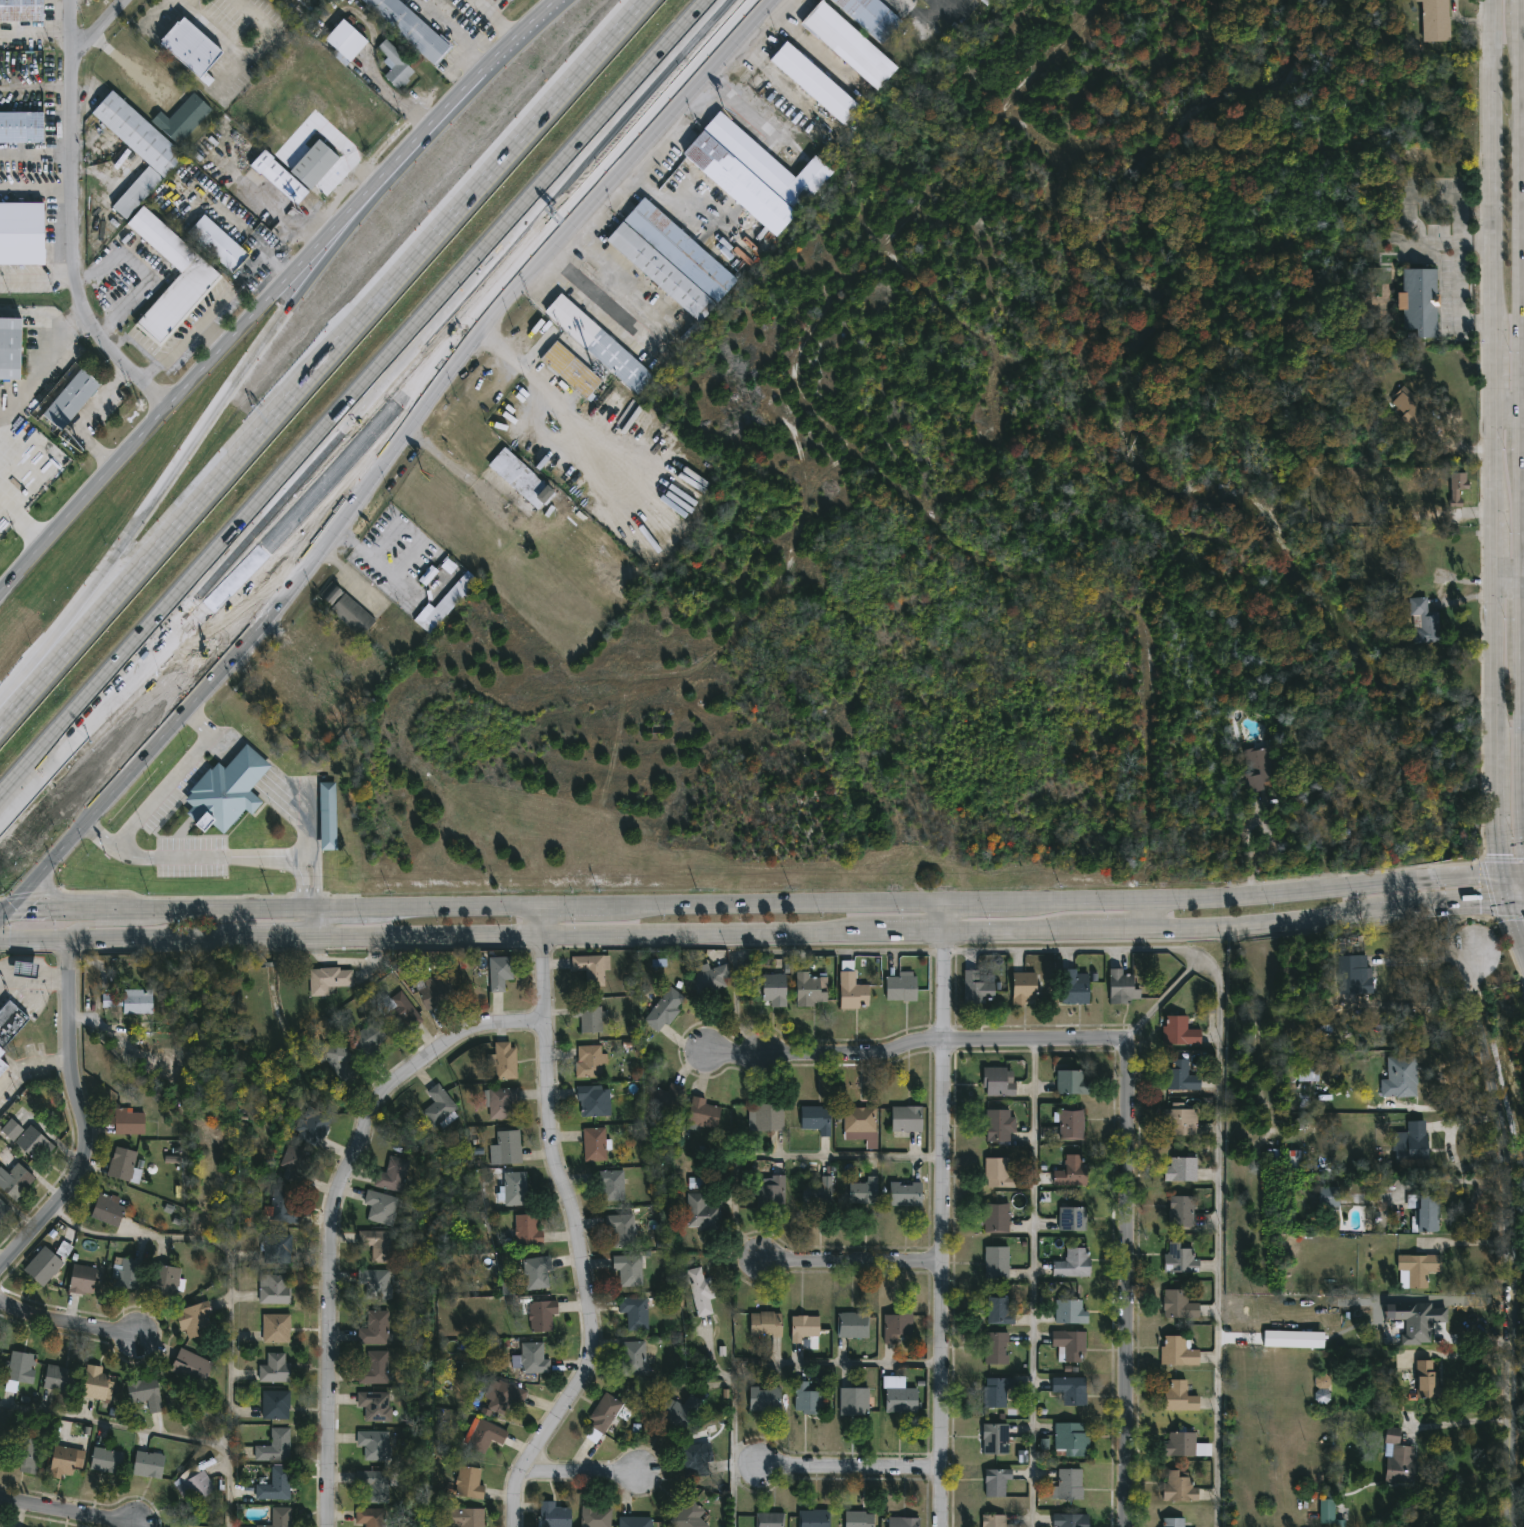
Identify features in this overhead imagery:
road: (178, 1)
road: (181, 1)
road: (890, 1)
road: (946, 6)
building: (20, 11)
building: (872, 16)
road: (436, 17)
building: (1436, 20)
building: (408, 28)
road: (105, 29)
building: (343, 43)
building: (850, 44)
road: (810, 45)
building: (188, 47)
road: (471, 52)
road: (501, 55)
road: (242, 60)
road: (125, 66)
building: (394, 66)
building: (815, 81)
road: (779, 83)
road: (397, 104)
building: (311, 108)
road: (676, 111)
road: (750, 114)
building: (183, 119)
building: (20, 127)
building: (134, 149)
road: (1493, 168)
building: (294, 170)
building: (755, 172)
road: (1431, 196)
road: (670, 200)
road: (285, 220)
road: (75, 222)
building: (20, 234)
road: (1440, 241)
building: (216, 244)
building: (672, 259)
road: (275, 267)
road: (142, 274)
road: (1459, 282)
road: (610, 298)
building: (175, 300)
building: (1421, 300)
road: (184, 340)
building: (599, 343)
building: (10, 348)
road: (220, 355)
road: (320, 362)
road: (39, 367)
building: (571, 368)
road: (1493, 371)
road: (1007, 382)
road: (244, 383)
road: (376, 384)
building: (71, 398)
road: (559, 404)
road: (1508, 407)
building: (1410, 409)
road: (82, 418)
road: (1522, 421)
road: (862, 462)
road: (1493, 468)
road: (457, 475)
building: (522, 478)
building: (1459, 488)
road: (303, 495)
road: (22, 523)
road: (1494, 553)
road: (371, 561)
road: (302, 573)
road: (1509, 576)
road: (351, 577)
building: (346, 608)
building: (431, 613)
building: (1427, 620)
road: (1494, 674)
road: (198, 722)
building: (1257, 768)
road: (15, 787)
road: (166, 788)
building: (227, 789)
building: (329, 814)
road: (1494, 824)
road: (1244, 834)
road: (1264, 849)
road: (214, 856)
traffic signals: (1500, 876)
road: (1512, 876)
road: (1503, 889)
road: (1253, 894)
road: (976, 900)
road: (773, 902)
traffic signals: (1506, 902)
road: (1515, 902)
road: (572, 904)
road: (456, 905)
road: (344, 906)
road: (206, 907)
road: (5, 908)
traffic signals: (10, 908)
road: (52, 908)
road: (1144, 913)
road: (5, 914)
road: (318, 921)
road: (118, 923)
road: (1515, 928)
road: (790, 931)
road: (36, 938)
road: (836, 953)
road: (1425, 956)
building: (25, 967)
building: (499, 970)
building: (590, 970)
building: (1359, 974)
building: (711, 977)
building: (327, 978)
road: (36, 983)
building: (1123, 984)
building: (901, 986)
building: (978, 986)
building: (1075, 986)
building: (769, 987)
building: (810, 987)
building: (1024, 988)
building: (435, 990)
building: (852, 990)
building: (128, 999)
road: (1159, 1002)
building: (664, 1008)
building: (399, 1012)
building: (590, 1017)
building: (10, 1021)
building: (1179, 1029)
building: (369, 1036)
building: (1, 1051)
road: (918, 1054)
building: (337, 1057)
building: (505, 1059)
building: (589, 1060)
building: (2, 1064)
road: (47, 1064)
building: (1307, 1070)
building: (1181, 1076)
building: (1398, 1077)
road: (7, 1080)
building: (997, 1081)
building: (1071, 1081)
building: (591, 1099)
building: (665, 1099)
building: (439, 1103)
building: (503, 1103)
road: (1218, 1110)
building: (703, 1112)
building: (768, 1115)
building: (816, 1117)
building: (858, 1118)
building: (907, 1118)
building: (128, 1121)
building: (1179, 1121)
road: (88, 1122)
building: (1070, 1123)
building: (999, 1124)
building: (313, 1125)
building: (11, 1129)
park: (1510, 1130)
building: (34, 1144)
building: (594, 1144)
building: (1412, 1145)
building: (506, 1146)
road: (783, 1156)
building: (295, 1162)
building: (121, 1163)
building: (1179, 1168)
building: (1071, 1170)
building: (997, 1172)
building: (392, 1174)
building: (15, 1180)
building: (610, 1184)
building: (512, 1188)
building: (864, 1190)
building: (771, 1191)
building: (817, 1192)
building: (905, 1192)
building: (1328, 1196)
building: (284, 1206)
building: (381, 1206)
building: (3, 1208)
building: (108, 1208)
building: (1180, 1210)
building: (701, 1211)
road: (941, 1213)
building: (1426, 1213)
road: (333, 1215)
building: (995, 1217)
building: (1071, 1218)
road: (576, 1224)
building: (527, 1229)
building: (620, 1229)
road: (1506, 1235)
building: (377, 1246)
building: (277, 1247)
building: (64, 1250)
road: (230, 1257)
building: (1180, 1257)
building: (996, 1261)
building: (1072, 1262)
building: (43, 1265)
road: (852, 1265)
building: (1415, 1268)
building: (627, 1269)
building: (125, 1272)
building: (536, 1272)
building: (81, 1278)
building: (165, 1279)
road: (1032, 1284)
building: (374, 1285)
building: (273, 1288)
road: (1127, 1288)
building: (700, 1289)
building: (1178, 1303)
building: (998, 1310)
building: (634, 1311)
building: (1069, 1311)
building: (541, 1314)
building: (195, 1318)
building: (1417, 1320)
building: (765, 1323)
building: (853, 1324)
building: (896, 1325)
building: (804, 1326)
building: (275, 1327)
road: (67, 1328)
building: (374, 1328)
building: (1290, 1339)
building: (1068, 1344)
building: (996, 1347)
building: (1176, 1350)
road: (1463, 1355)
building: (533, 1357)
building: (633, 1357)
road: (756, 1362)
building: (19, 1366)
building: (191, 1366)
building: (275, 1367)
building: (374, 1367)
building: (57, 1378)
building: (1426, 1379)
building: (1322, 1381)
building: (95, 1382)
building: (1069, 1389)
building: (996, 1391)
building: (144, 1392)
building: (636, 1394)
building: (502, 1396)
building: (1178, 1396)
building: (765, 1398)
building: (806, 1398)
building: (901, 1400)
building: (854, 1401)
building: (275, 1404)
building: (374, 1405)
building: (679, 1410)
building: (604, 1414)
road: (1459, 1424)
road: (152, 1430)
building: (485, 1435)
building: (1070, 1437)
building: (994, 1438)
building: (373, 1443)
building: (1184, 1444)
building: (274, 1446)
building: (1, 1452)
building: (27, 1455)
building: (1397, 1457)
building: (693, 1459)
building: (65, 1460)
building: (106, 1460)
building: (148, 1464)
road: (850, 1473)
road: (582, 1476)
building: (995, 1481)
building: (468, 1482)
building: (1068, 1483)
building: (275, 1484)
building: (374, 1484)
building: (194, 1485)
building: (1178, 1486)
building: (1327, 1511)
building: (554, 1514)
building: (595, 1514)
building: (689, 1514)
road: (60, 1515)
building: (468, 1516)
building: (279, 1517)
building: (370, 1517)
building: (813, 1517)
building: (859, 1518)
building: (769, 1519)
building: (993, 1520)
building: (1070, 1520)
building: (634, 1521)
building: (903, 1521)
building: (1171, 1522)

